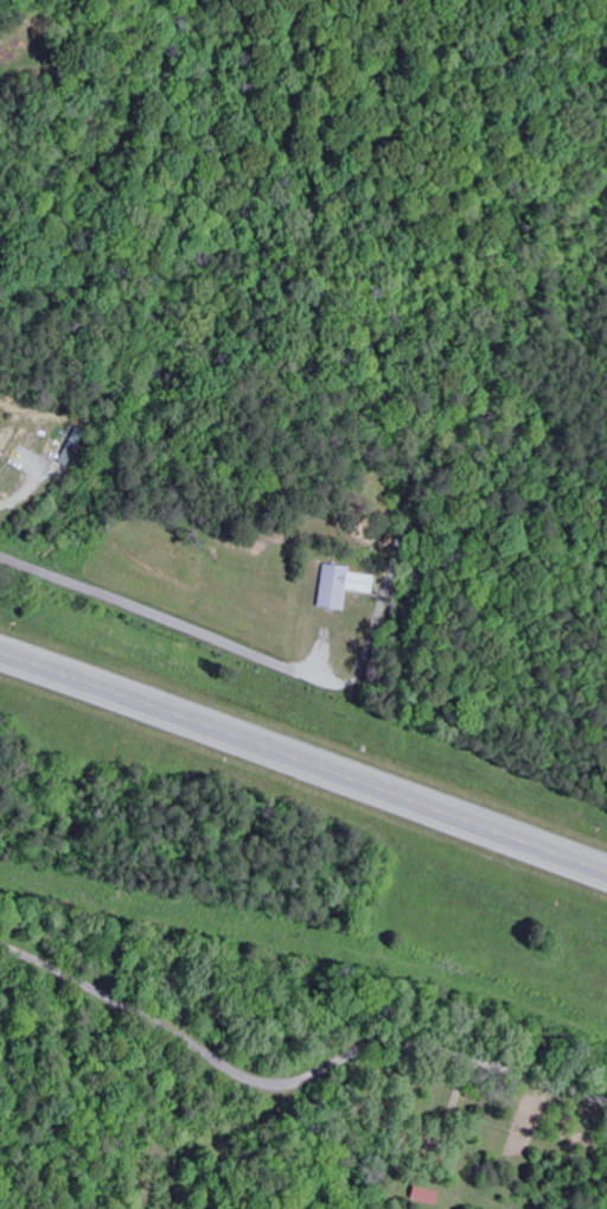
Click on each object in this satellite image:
building: (341, 586)
road: (148, 613)
road: (303, 762)
road: (293, 1086)
building: (424, 1195)

